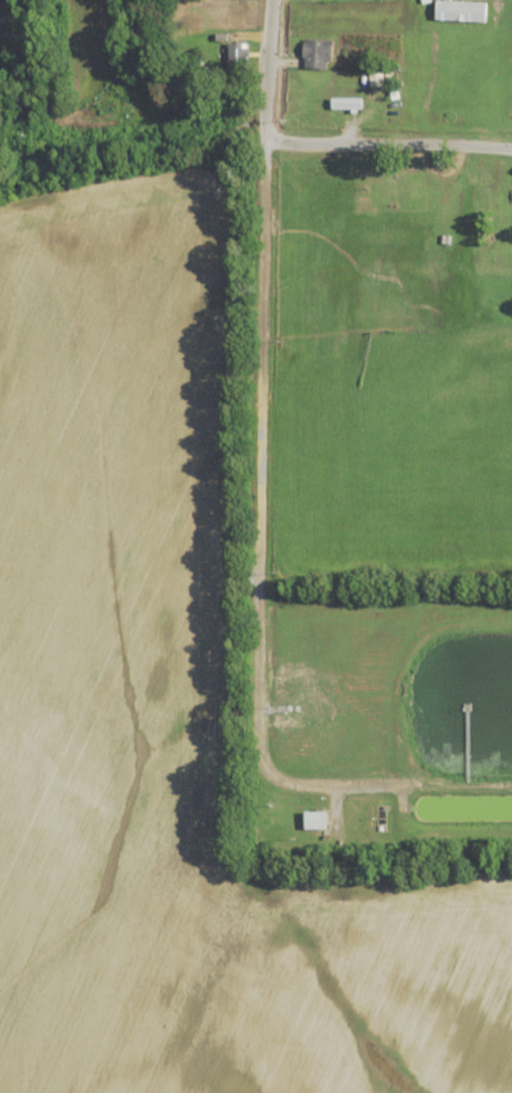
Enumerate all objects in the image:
building: (460, 12)
building: (237, 55)
building: (318, 55)
road: (266, 71)
road: (388, 145)
road: (258, 535)
building: (316, 819)

